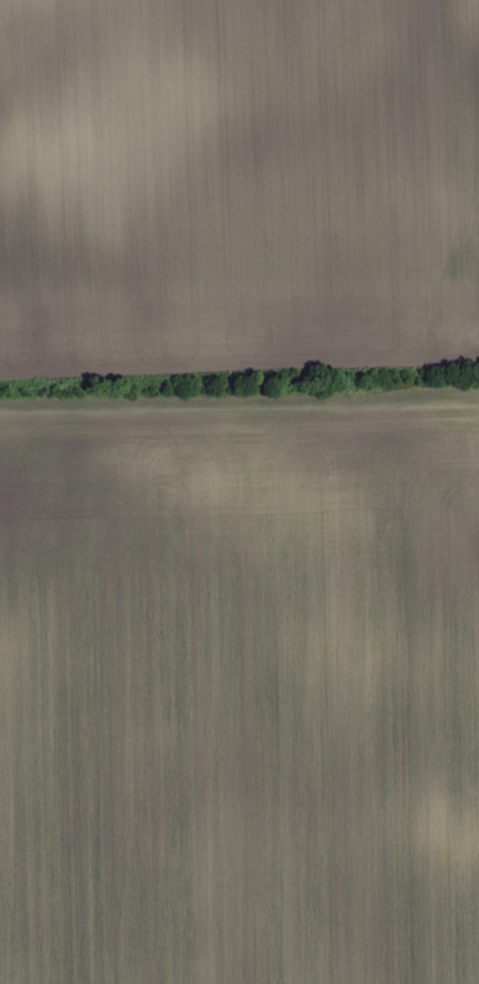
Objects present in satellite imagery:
crop: (237, 185)
crop: (240, 687)

